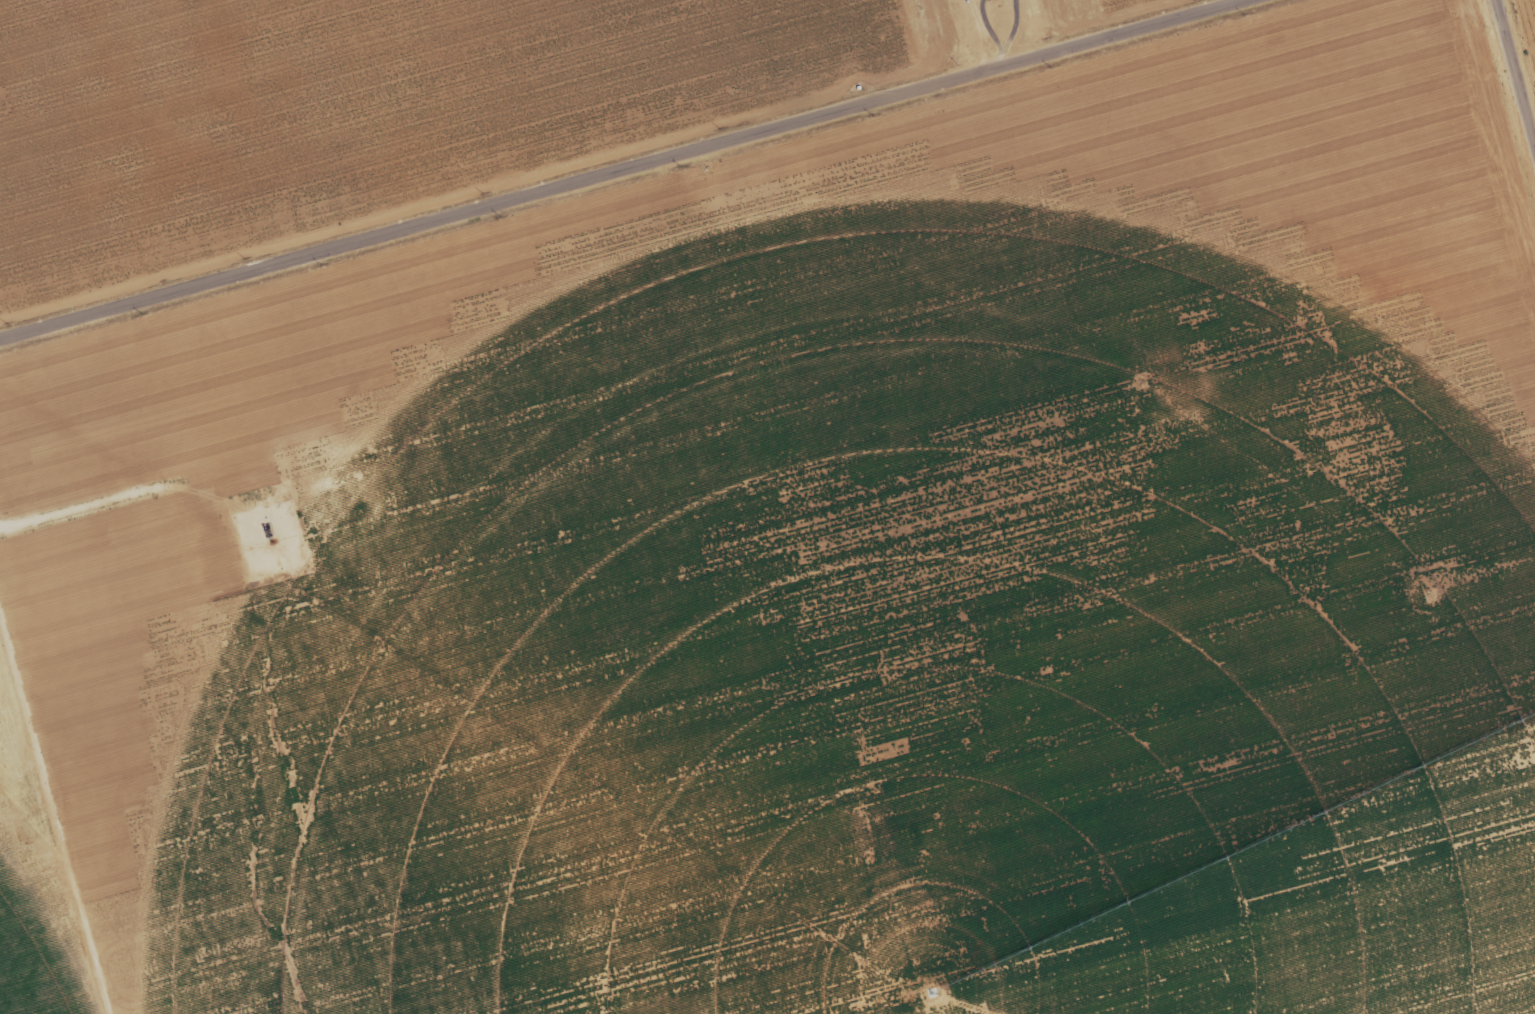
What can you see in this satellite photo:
road: (1505, 92)
road: (620, 174)

